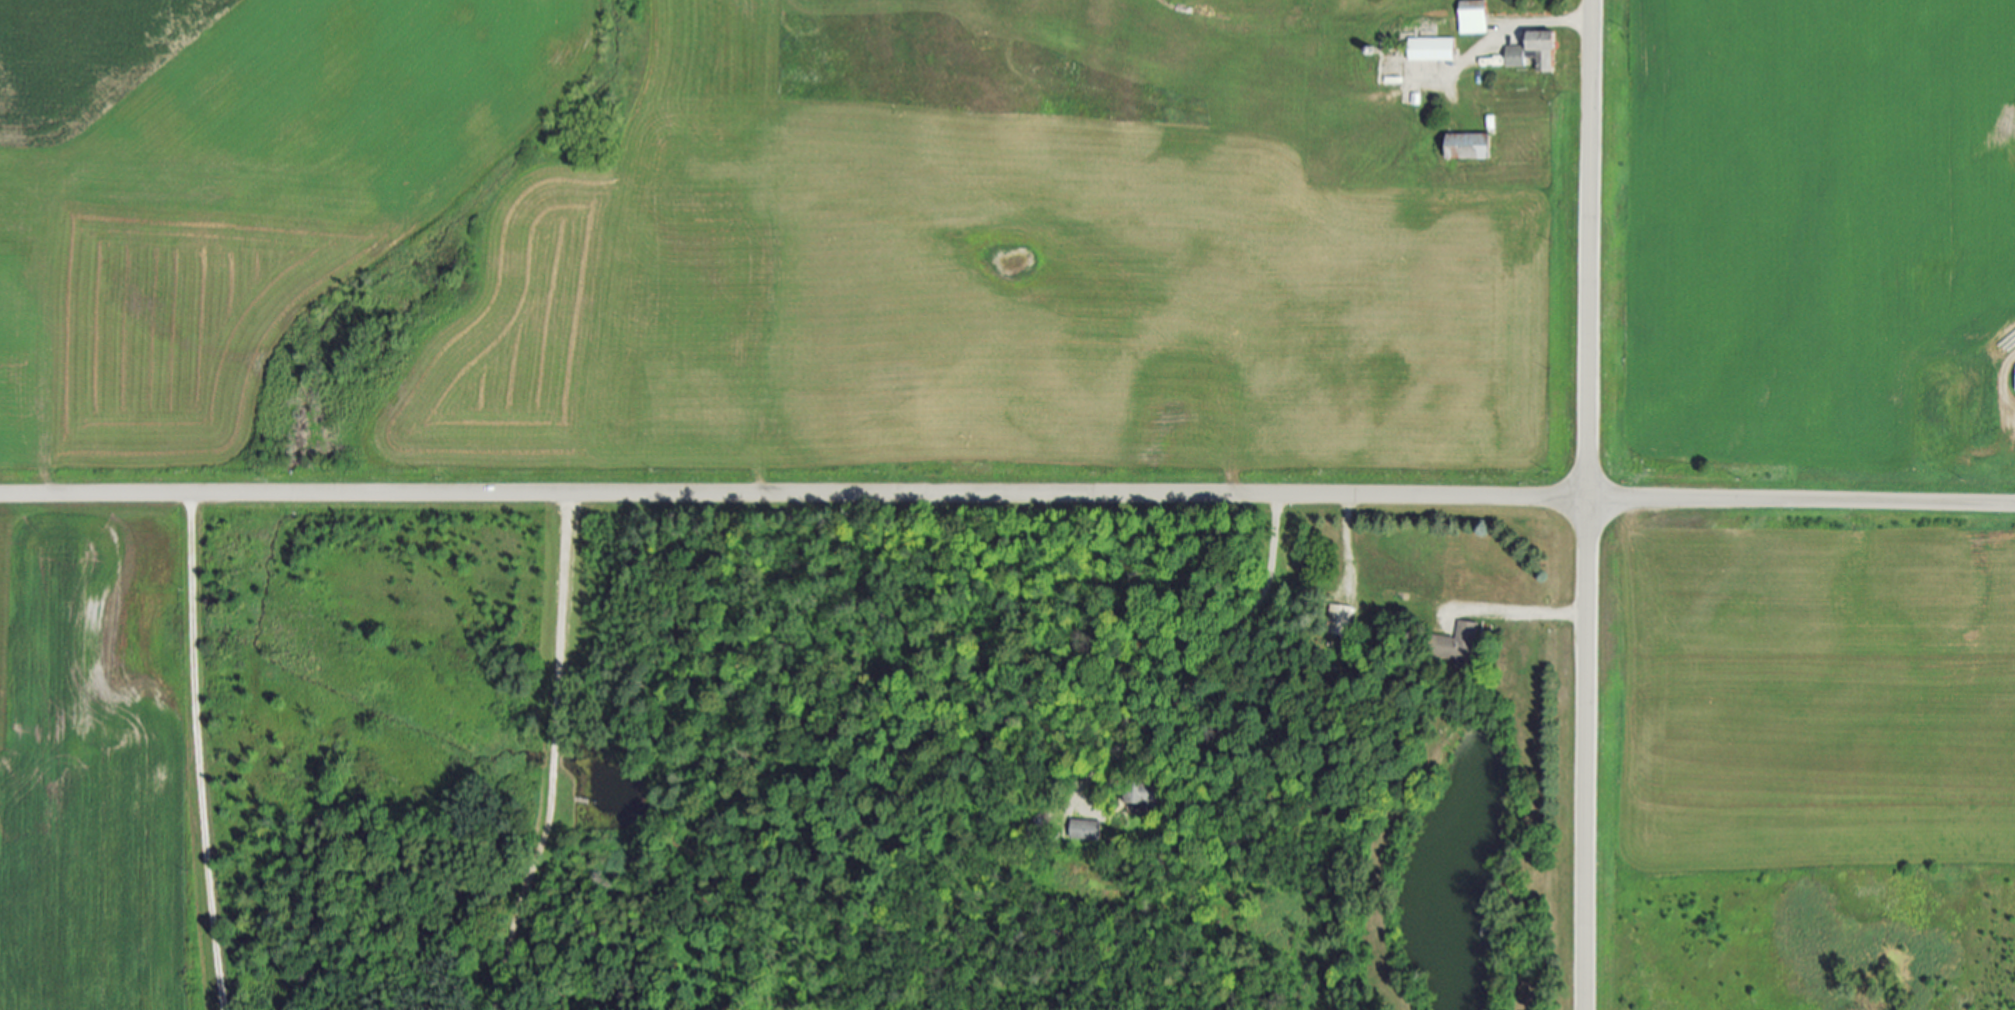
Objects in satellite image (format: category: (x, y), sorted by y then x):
building: (1475, 17)
road: (1508, 29)
building: (1547, 48)
building: (1433, 49)
building: (1518, 56)
building: (1472, 147)
road: (1007, 494)
road: (1586, 504)
road: (1342, 539)
road: (1523, 610)
building: (1347, 621)
building: (1457, 642)
road: (1233, 649)
road: (197, 744)
road: (551, 755)
building: (1142, 791)
building: (1087, 829)
road: (219, 1002)
road: (222, 1002)

